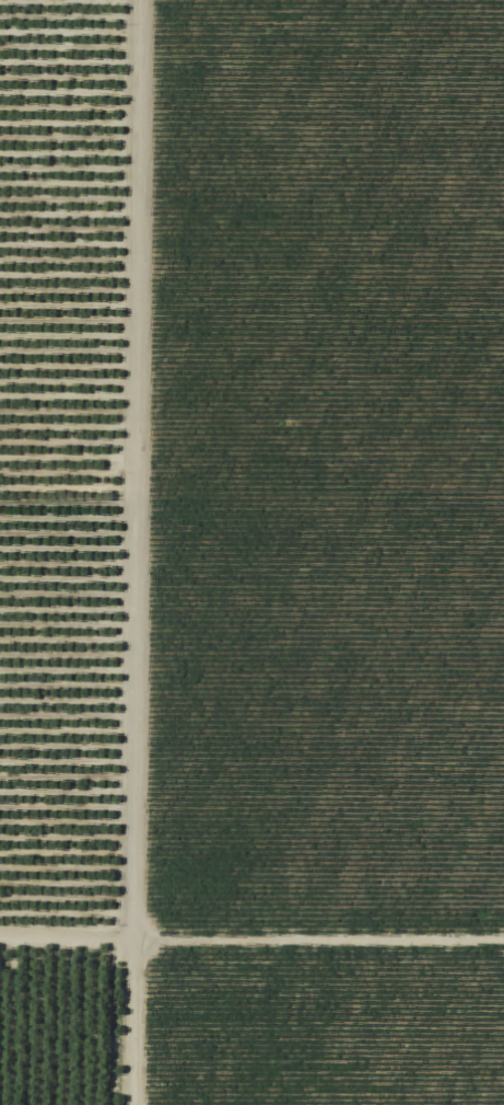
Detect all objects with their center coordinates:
crop: (324, 469)
road: (138, 552)
road: (251, 944)
crop: (321, 1029)

